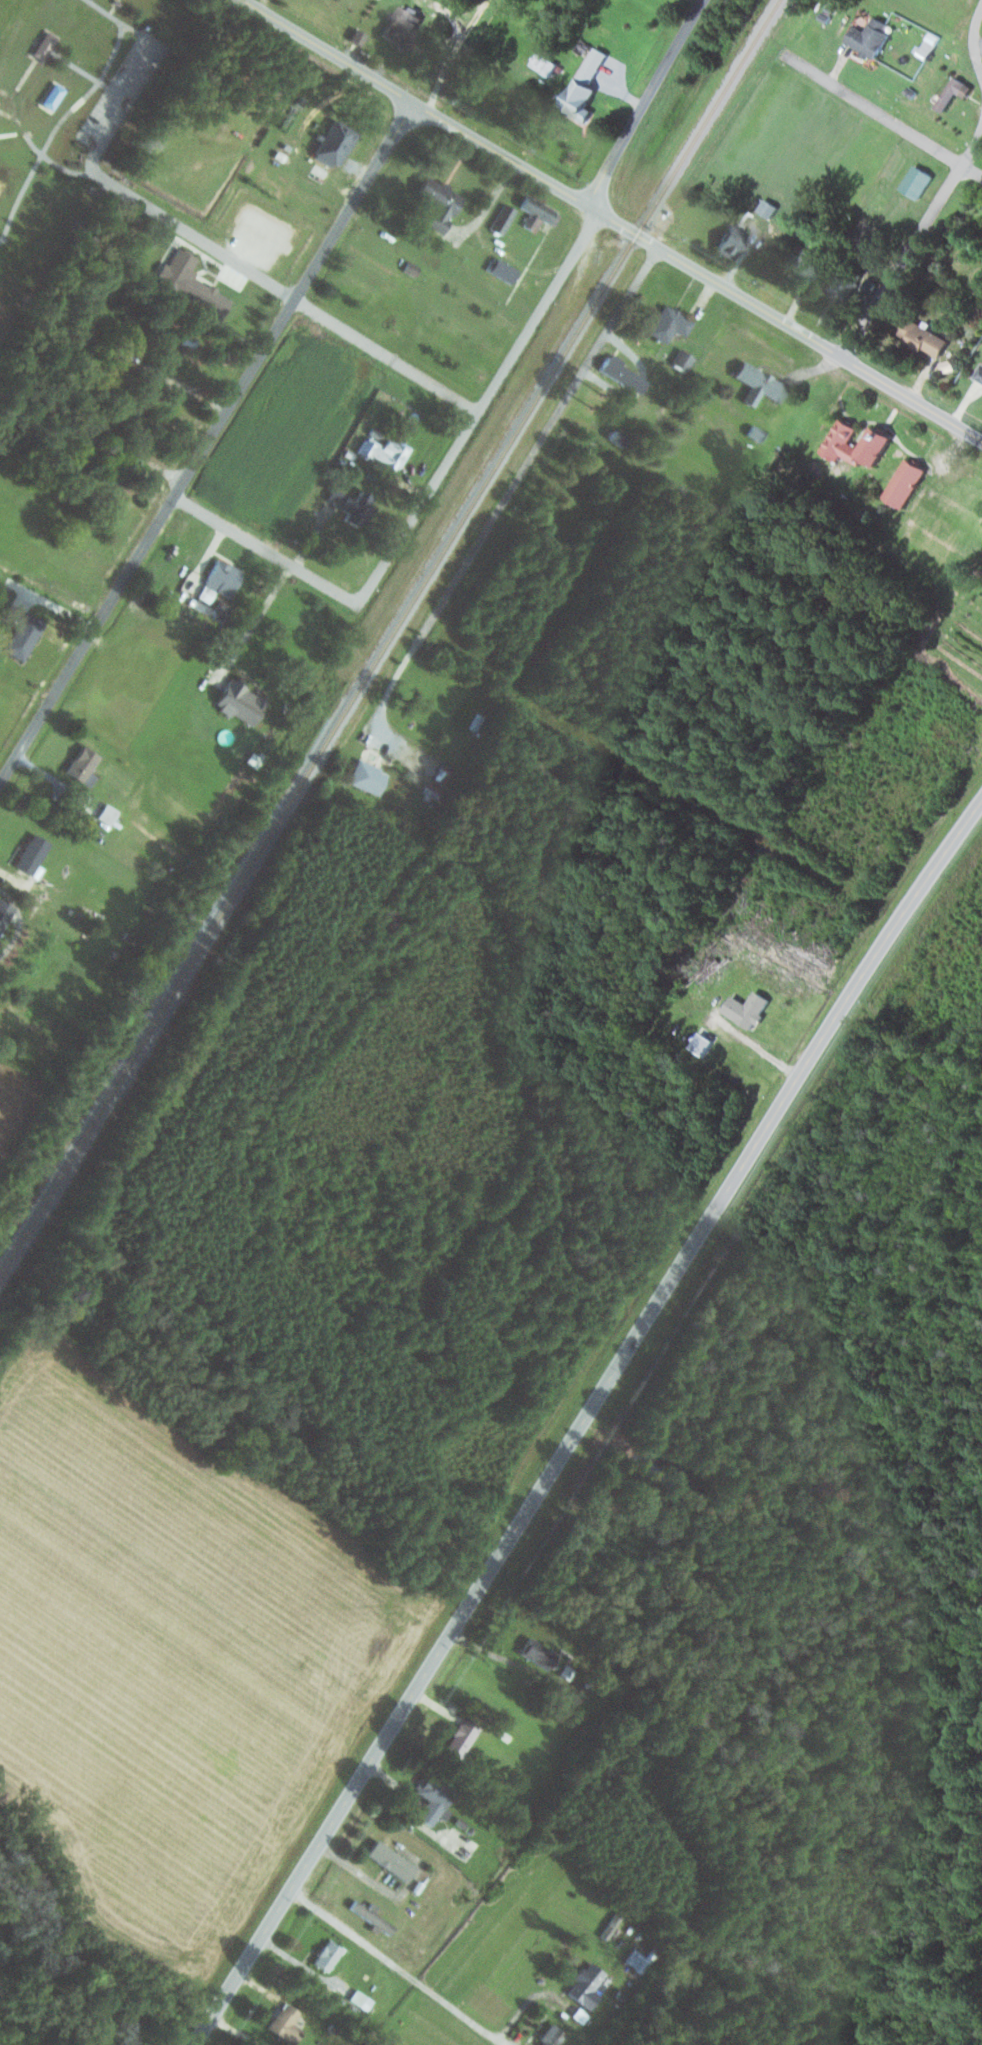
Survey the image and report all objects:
building: (116, 2)
building: (831, 2)
building: (829, 8)
road: (112, 9)
road: (477, 12)
road: (113, 16)
building: (824, 17)
building: (402, 27)
building: (871, 35)
building: (356, 36)
road: (973, 40)
road: (977, 42)
building: (43, 44)
road: (456, 48)
building: (927, 48)
building: (544, 63)
road: (839, 63)
road: (77, 67)
road: (23, 78)
parking lot: (122, 90)
road: (620, 92)
building: (910, 92)
building: (955, 92)
building: (581, 94)
building: (52, 96)
road: (644, 103)
road: (975, 104)
road: (120, 108)
road: (8, 114)
road: (882, 114)
park: (75, 118)
road: (55, 127)
road: (301, 135)
building: (334, 143)
road: (35, 146)
road: (354, 168)
building: (917, 181)
park: (3, 185)
road: (353, 199)
building: (438, 202)
road: (490, 203)
building: (768, 207)
building: (535, 212)
building: (502, 218)
road: (613, 221)
building: (731, 241)
road: (913, 241)
building: (468, 244)
building: (862, 249)
road: (744, 254)
building: (803, 264)
road: (884, 264)
building: (411, 268)
flagpole: (206, 269)
parking lot: (228, 269)
building: (502, 269)
building: (981, 281)
building: (870, 285)
building: (841, 287)
road: (879, 290)
road: (286, 293)
building: (202, 296)
crop: (6, 298)
road: (704, 298)
road: (795, 301)
road: (490, 302)
building: (669, 324)
building: (81, 331)
building: (924, 335)
building: (174, 336)
building: (113, 356)
building: (683, 360)
building: (947, 365)
road: (812, 369)
road: (930, 372)
building: (623, 375)
road: (921, 375)
building: (980, 375)
road: (640, 382)
road: (181, 383)
building: (760, 384)
road: (964, 399)
road: (481, 406)
crop: (286, 434)
building: (756, 434)
building: (839, 445)
building: (385, 451)
road: (951, 451)
building: (348, 454)
road: (400, 480)
building: (905, 483)
road: (511, 491)
building: (352, 506)
road: (313, 535)
road: (145, 540)
road: (211, 549)
road: (266, 550)
building: (222, 578)
road: (51, 604)
building: (199, 606)
road: (254, 623)
building: (21, 633)
railway: (390, 637)
crop: (126, 675)
building: (239, 703)
road: (403, 746)
building: (81, 765)
building: (443, 771)
building: (367, 778)
road: (58, 783)
building: (432, 792)
road: (706, 802)
building: (108, 814)
building: (30, 855)
road: (13, 880)
road: (9, 894)
building: (4, 914)
road: (15, 943)
building: (748, 1009)
building: (701, 1044)
road: (755, 1046)
road: (801, 1067)
building: (539, 1653)
road: (412, 1693)
building: (463, 1737)
building: (433, 1798)
building: (393, 1860)
building: (373, 1916)
building: (329, 1955)
building: (640, 1959)
road: (393, 1963)
road: (304, 1965)
building: (587, 1985)
building: (362, 1999)
road: (528, 2002)
building: (286, 2021)
building: (553, 2036)

